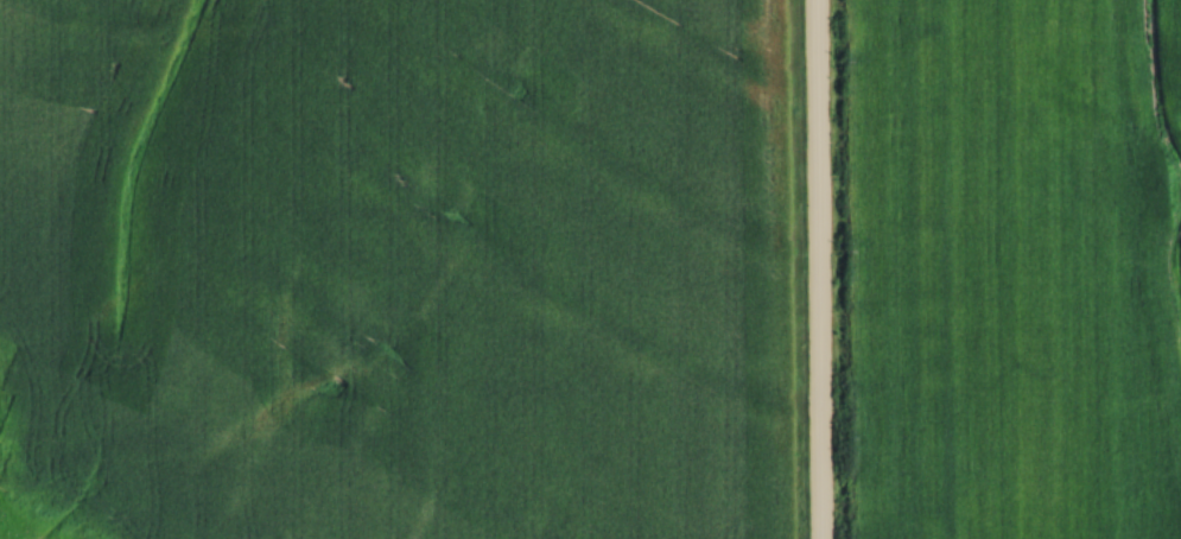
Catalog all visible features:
crop: (1016, 268)
road: (818, 269)

